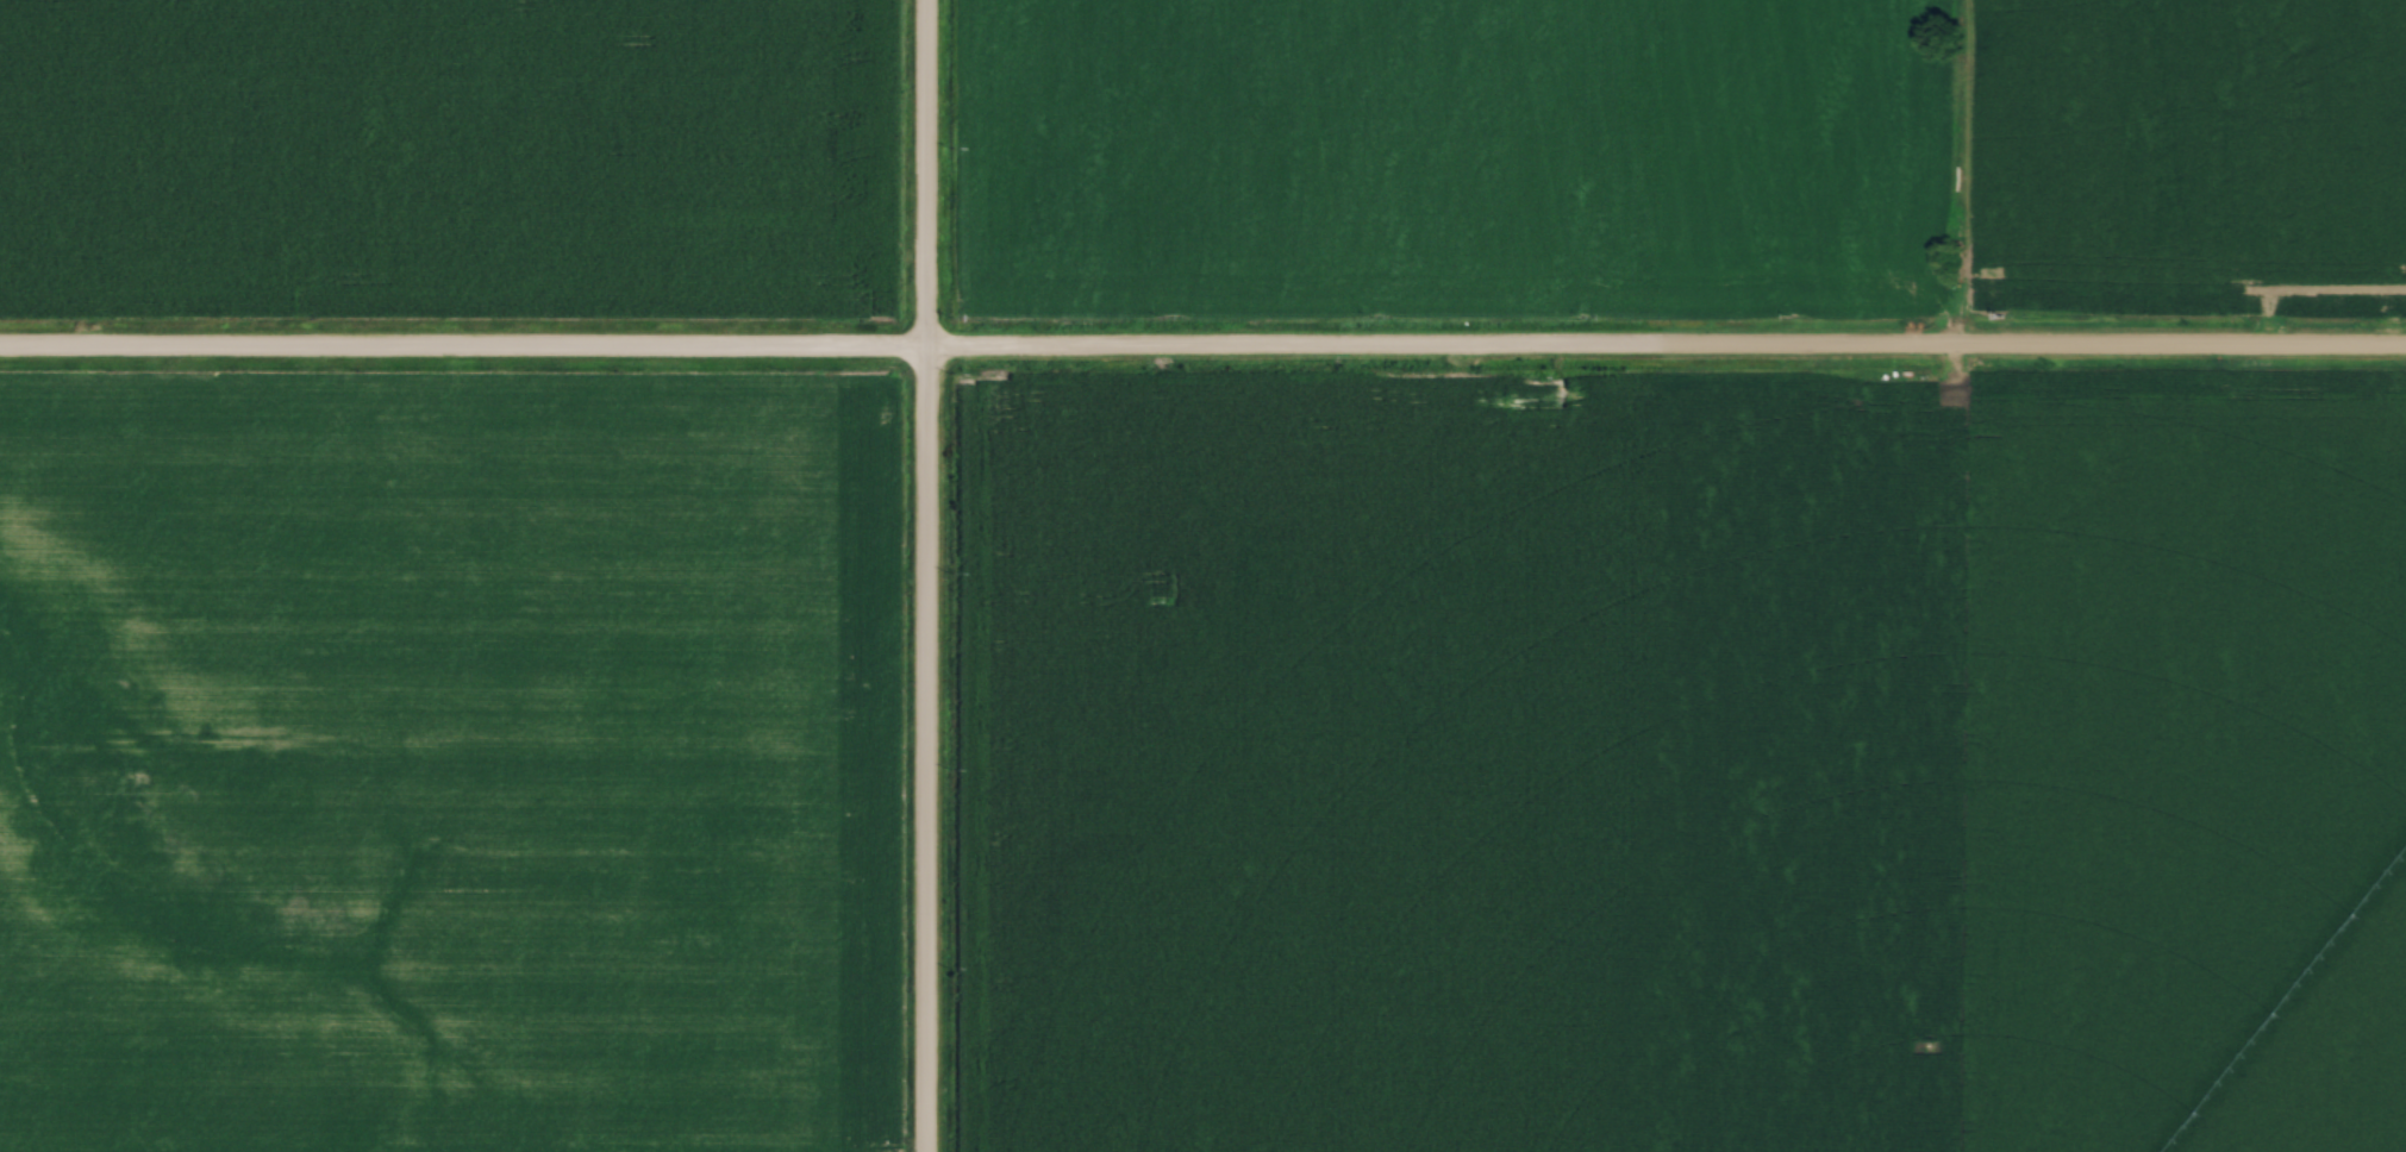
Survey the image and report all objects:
road: (1202, 352)
road: (923, 575)

